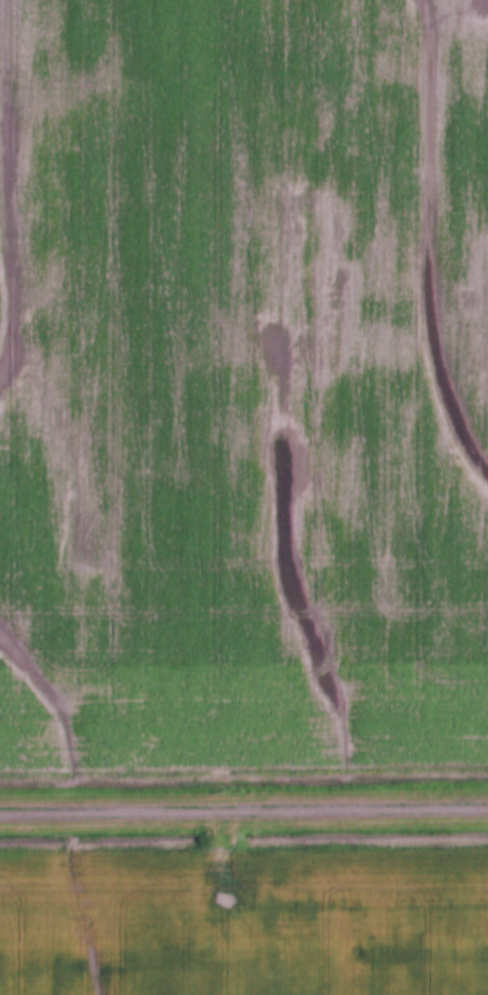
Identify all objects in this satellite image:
road: (244, 815)

